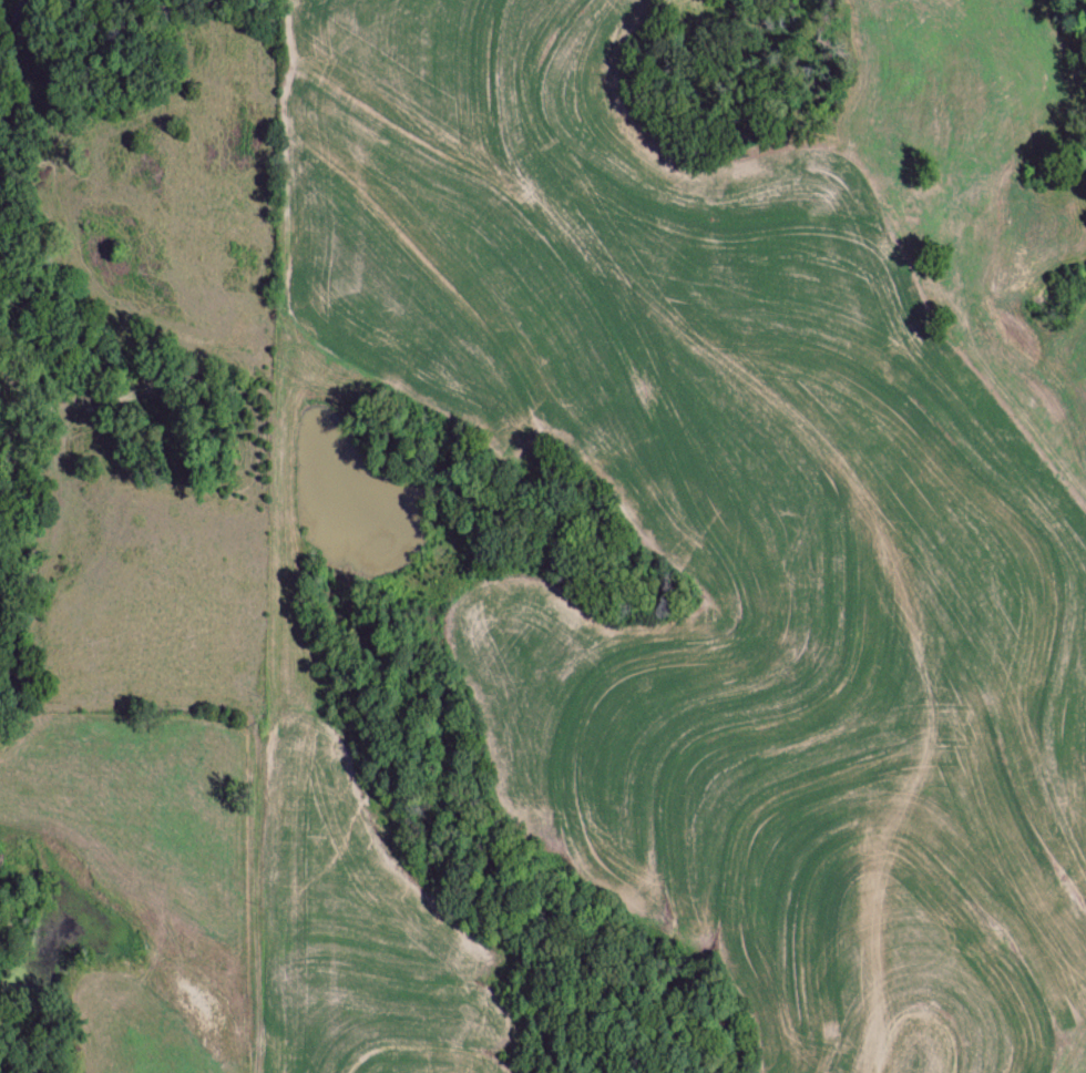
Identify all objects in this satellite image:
road: (1, 527)
road: (237, 791)

